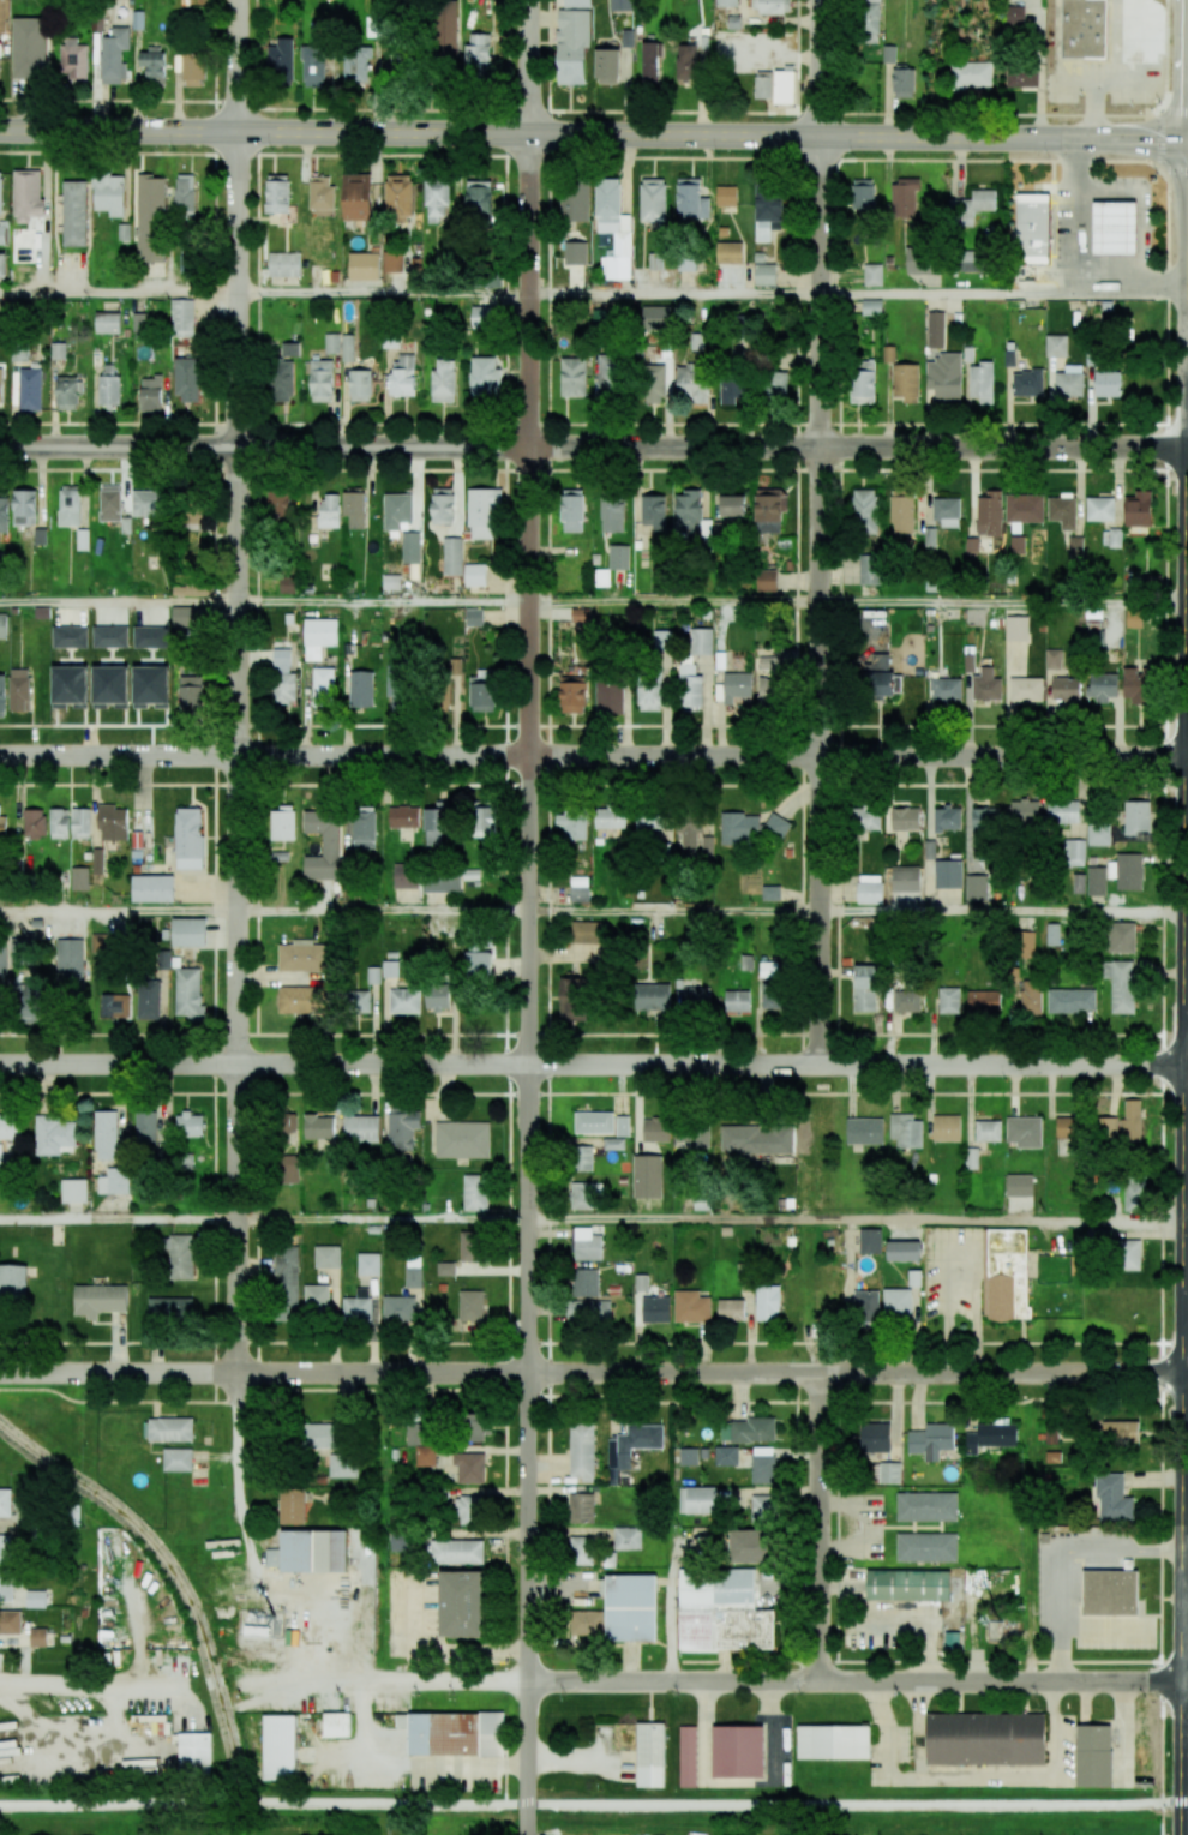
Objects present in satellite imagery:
building: (726, 2)
building: (576, 4)
building: (620, 5)
building: (770, 6)
building: (2, 14)
building: (1015, 14)
building: (138, 18)
building: (870, 20)
building: (374, 25)
building: (445, 29)
building: (1086, 29)
building: (628, 37)
building: (572, 44)
building: (29, 47)
building: (478, 52)
building: (114, 54)
building: (889, 54)
building: (74, 61)
building: (281, 61)
building: (649, 62)
building: (686, 62)
building: (356, 64)
building: (152, 65)
road: (239, 66)
building: (313, 66)
building: (607, 66)
road: (529, 67)
road: (821, 68)
building: (193, 70)
building: (971, 74)
building: (1021, 76)
building: (902, 83)
building: (762, 84)
building: (784, 86)
road: (119, 101)
road: (1046, 114)
road: (1158, 124)
road: (409, 134)
road: (936, 138)
road: (1120, 139)
road: (594, 156)
building: (0, 191)
building: (277, 193)
building: (28, 194)
building: (109, 194)
building: (184, 194)
building: (320, 196)
building: (726, 196)
building: (862, 196)
building: (356, 197)
building: (397, 197)
building: (904, 197)
building: (479, 198)
building: (653, 199)
building: (691, 199)
building: (437, 200)
building: (575, 200)
building: (973, 205)
building: (767, 211)
building: (74, 212)
road: (1079, 217)
building: (150, 218)
building: (1116, 228)
building: (612, 230)
building: (1033, 232)
building: (2, 233)
building: (575, 252)
building: (730, 252)
building: (392, 260)
building: (654, 260)
building: (970, 260)
building: (922, 262)
building: (686, 264)
building: (2, 265)
building: (283, 265)
building: (364, 265)
building: (764, 274)
building: (872, 275)
building: (488, 280)
road: (119, 294)
road: (384, 294)
road: (674, 295)
road: (1003, 295)
building: (871, 307)
building: (653, 311)
building: (484, 317)
building: (181, 318)
building: (1, 322)
building: (107, 322)
building: (139, 322)
building: (935, 329)
building: (332, 343)
building: (1056, 346)
building: (347, 347)
building: (289, 349)
building: (58, 350)
building: (889, 353)
building: (1009, 358)
building: (402, 374)
building: (485, 376)
building: (606, 376)
building: (574, 377)
building: (944, 377)
building: (186, 378)
building: (281, 380)
building: (322, 380)
building: (443, 380)
building: (1069, 380)
building: (863, 382)
building: (906, 382)
building: (982, 382)
building: (654, 383)
building: (692, 383)
building: (1027, 383)
building: (1108, 383)
building: (776, 384)
building: (359, 385)
building: (1, 386)
building: (108, 386)
building: (29, 389)
building: (732, 390)
building: (68, 392)
building: (150, 394)
road: (594, 448)
building: (110, 503)
building: (148, 503)
building: (70, 505)
building: (442, 505)
building: (732, 505)
building: (1025, 505)
building: (278, 506)
building: (24, 508)
building: (1102, 508)
building: (353, 509)
building: (768, 509)
building: (1138, 509)
building: (329, 510)
building: (396, 510)
building: (572, 510)
building: (4, 511)
building: (482, 511)
building: (863, 511)
building: (901, 511)
building: (946, 511)
building: (1062, 511)
building: (612, 512)
building: (653, 512)
building: (689, 514)
building: (989, 514)
building: (1116, 535)
building: (1019, 542)
building: (972, 545)
building: (1076, 546)
building: (410, 547)
building: (452, 556)
building: (618, 557)
building: (2, 569)
building: (870, 569)
building: (475, 575)
building: (601, 577)
building: (766, 580)
building: (1151, 580)
building: (391, 582)
building: (287, 584)
road: (119, 601)
road: (821, 601)
road: (383, 602)
road: (674, 602)
road: (1004, 602)
building: (42, 612)
building: (1094, 612)
building: (181, 614)
building: (581, 616)
building: (474, 617)
building: (1135, 617)
building: (995, 618)
building: (2, 625)
building: (1016, 628)
building: (70, 636)
building: (110, 636)
building: (150, 636)
building: (319, 636)
building: (664, 638)
building: (702, 638)
building: (1094, 640)
building: (720, 659)
building: (1054, 659)
building: (770, 661)
building: (880, 661)
building: (283, 677)
building: (886, 683)
building: (1135, 684)
building: (150, 685)
building: (985, 685)
building: (70, 686)
building: (110, 686)
building: (323, 686)
building: (733, 686)
building: (1102, 686)
building: (396, 688)
building: (689, 688)
building: (944, 688)
building: (1066, 688)
building: (361, 689)
building: (1026, 689)
building: (19, 690)
building: (768, 691)
building: (190, 692)
building: (481, 694)
building: (572, 694)
building: (2, 695)
building: (610, 697)
building: (649, 697)
road: (594, 756)
building: (1063, 811)
building: (1021, 812)
building: (403, 816)
building: (1136, 816)
building: (610, 817)
building: (865, 818)
building: (905, 818)
building: (984, 818)
building: (648, 820)
building: (947, 820)
building: (484, 821)
building: (80, 822)
building: (35, 823)
building: (59, 823)
building: (112, 823)
building: (2, 824)
building: (282, 824)
building: (572, 824)
building: (364, 827)
building: (437, 827)
building: (775, 827)
building: (739, 828)
road: (238, 829)
building: (689, 834)
building: (1098, 834)
building: (188, 838)
building: (323, 846)
building: (1074, 852)
building: (1127, 871)
building: (947, 874)
building: (404, 875)
building: (80, 877)
building: (905, 878)
building: (1096, 881)
building: (1079, 883)
building: (442, 884)
building: (976, 887)
building: (152, 888)
building: (580, 888)
building: (770, 893)
building: (870, 893)
road: (119, 911)
road: (383, 911)
road: (674, 912)
road: (1002, 912)
building: (188, 931)
building: (584, 931)
building: (1052, 934)
building: (1121, 937)
building: (100, 943)
building: (1022, 943)
building: (19, 951)
building: (301, 957)
building: (70, 960)
building: (478, 960)
building: (4, 965)
building: (768, 969)
building: (1120, 984)
road: (529, 985)
building: (864, 988)
building: (190, 993)
building: (770, 995)
building: (437, 996)
building: (652, 996)
building: (1031, 997)
building: (149, 999)
building: (301, 999)
building: (572, 999)
building: (404, 1000)
building: (696, 1000)
building: (737, 1000)
building: (949, 1000)
building: (1072, 1000)
road: (1162, 1000)
building: (358, 1001)
building: (906, 1001)
building: (983, 1001)
building: (30, 1003)
building: (114, 1005)
road: (1187, 1025)
road: (593, 1065)
building: (1130, 1121)
building: (594, 1122)
building: (190, 1125)
building: (11, 1126)
building: (622, 1126)
building: (145, 1127)
building: (287, 1127)
building: (318, 1127)
building: (402, 1127)
building: (946, 1127)
building: (1068, 1127)
building: (361, 1128)
building: (1106, 1128)
building: (655, 1129)
building: (864, 1131)
building: (906, 1131)
building: (988, 1131)
building: (1024, 1132)
building: (54, 1134)
building: (106, 1134)
building: (742, 1138)
building: (462, 1139)
building: (613, 1144)
building: (582, 1158)
building: (971, 1158)
building: (288, 1169)
building: (647, 1176)
building: (114, 1181)
building: (1019, 1185)
building: (73, 1191)
building: (475, 1192)
building: (1135, 1193)
building: (581, 1195)
road: (1187, 1218)
road: (383, 1219)
road: (673, 1219)
road: (1001, 1221)
road: (119, 1222)
building: (870, 1241)
building: (586, 1243)
building: (469, 1245)
road: (961, 1247)
building: (902, 1251)
building: (1127, 1254)
building: (180, 1255)
building: (328, 1257)
building: (368, 1264)
building: (445, 1269)
building: (413, 1272)
building: (1004, 1273)
building: (13, 1282)
building: (287, 1282)
building: (584, 1282)
building: (100, 1300)
building: (316, 1300)
building: (768, 1302)
building: (898, 1302)
building: (358, 1306)
building: (470, 1306)
building: (691, 1306)
building: (866, 1306)
building: (170, 1308)
building: (398, 1309)
building: (655, 1309)
building: (731, 1309)
building: (589, 1311)
road: (1187, 1317)
road: (593, 1373)
building: (476, 1426)
building: (168, 1429)
building: (748, 1429)
building: (1118, 1431)
building: (1051, 1433)
building: (319, 1435)
building: (990, 1437)
building: (874, 1440)
building: (930, 1440)
building: (420, 1441)
building: (632, 1443)
building: (581, 1451)
building: (726, 1455)
building: (688, 1456)
building: (178, 1459)
building: (342, 1465)
building: (469, 1467)
building: (762, 1469)
building: (889, 1473)
building: (1112, 1497)
building: (696, 1500)
building: (5, 1503)
building: (292, 1506)
building: (926, 1506)
building: (581, 1507)
building: (762, 1507)
building: (469, 1510)
road: (818, 1527)
road: (860, 1527)
building: (626, 1539)
building: (748, 1546)
building: (926, 1547)
building: (5, 1549)
building: (456, 1551)
building: (581, 1551)
building: (310, 1552)
road: (1060, 1553)
building: (6, 1584)
building: (907, 1584)
building: (1110, 1593)
building: (35, 1599)
building: (461, 1603)
building: (630, 1607)
road: (1187, 1609)
building: (721, 1611)
building: (10, 1621)
building: (584, 1624)
road: (893, 1624)
building: (38, 1637)
road: (433, 1649)
road: (736, 1681)
road: (86, 1684)
building: (336, 1723)
building: (456, 1734)
road: (70, 1739)
building: (985, 1739)
building: (833, 1741)
building: (280, 1747)
building: (738, 1751)
building: (194, 1752)
building: (650, 1755)
building: (1093, 1755)
building: (688, 1756)
road: (592, 1803)
road: (1186, 1804)

